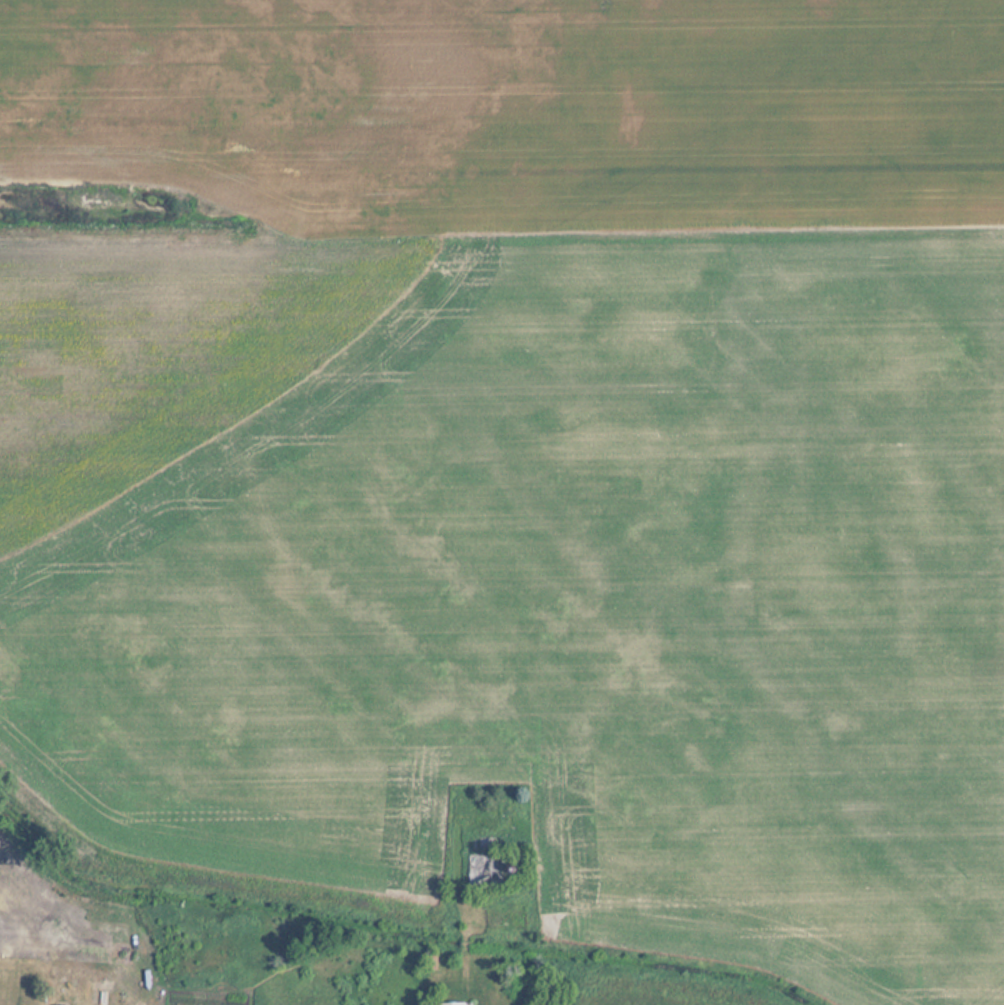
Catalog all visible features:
building: (485, 874)
building: (455, 1004)

